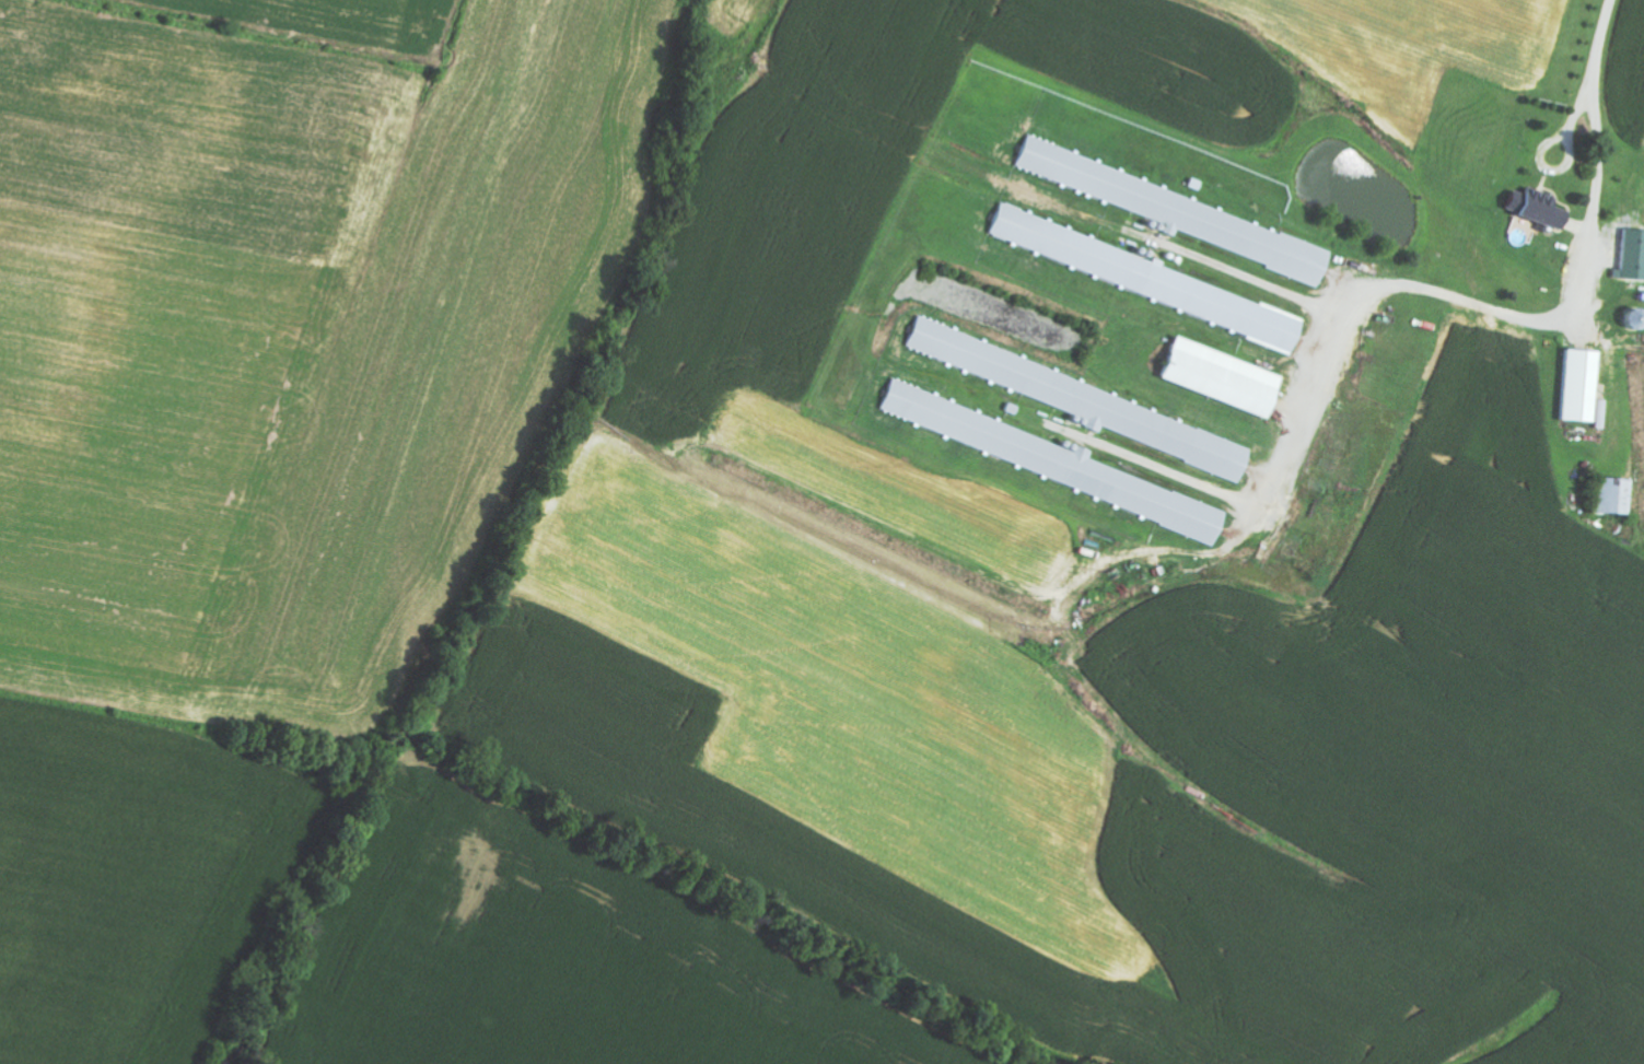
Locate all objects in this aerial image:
building: (1540, 209)
building: (1188, 215)
building: (1633, 257)
building: (1143, 276)
building: (1226, 378)
building: (1584, 387)
building: (1091, 402)
building: (1045, 457)
building: (1618, 498)

